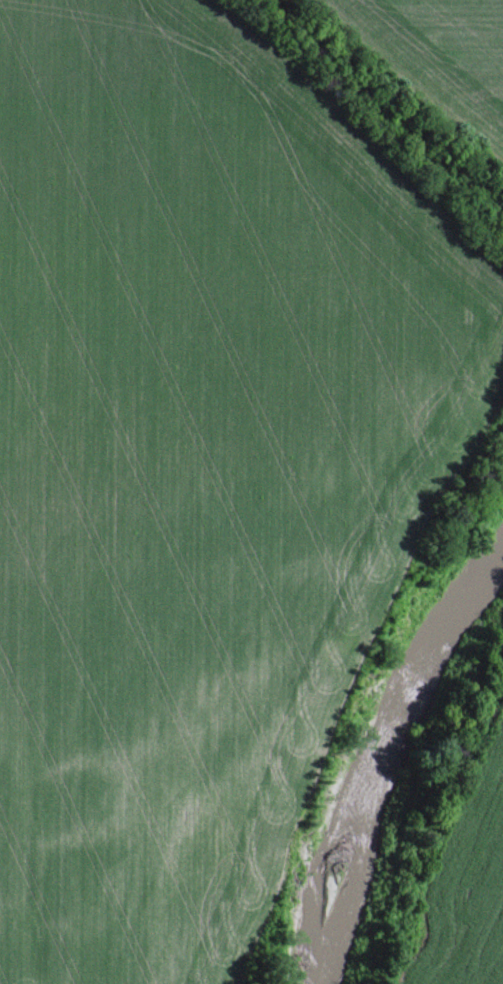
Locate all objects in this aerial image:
river: (397, 758)

